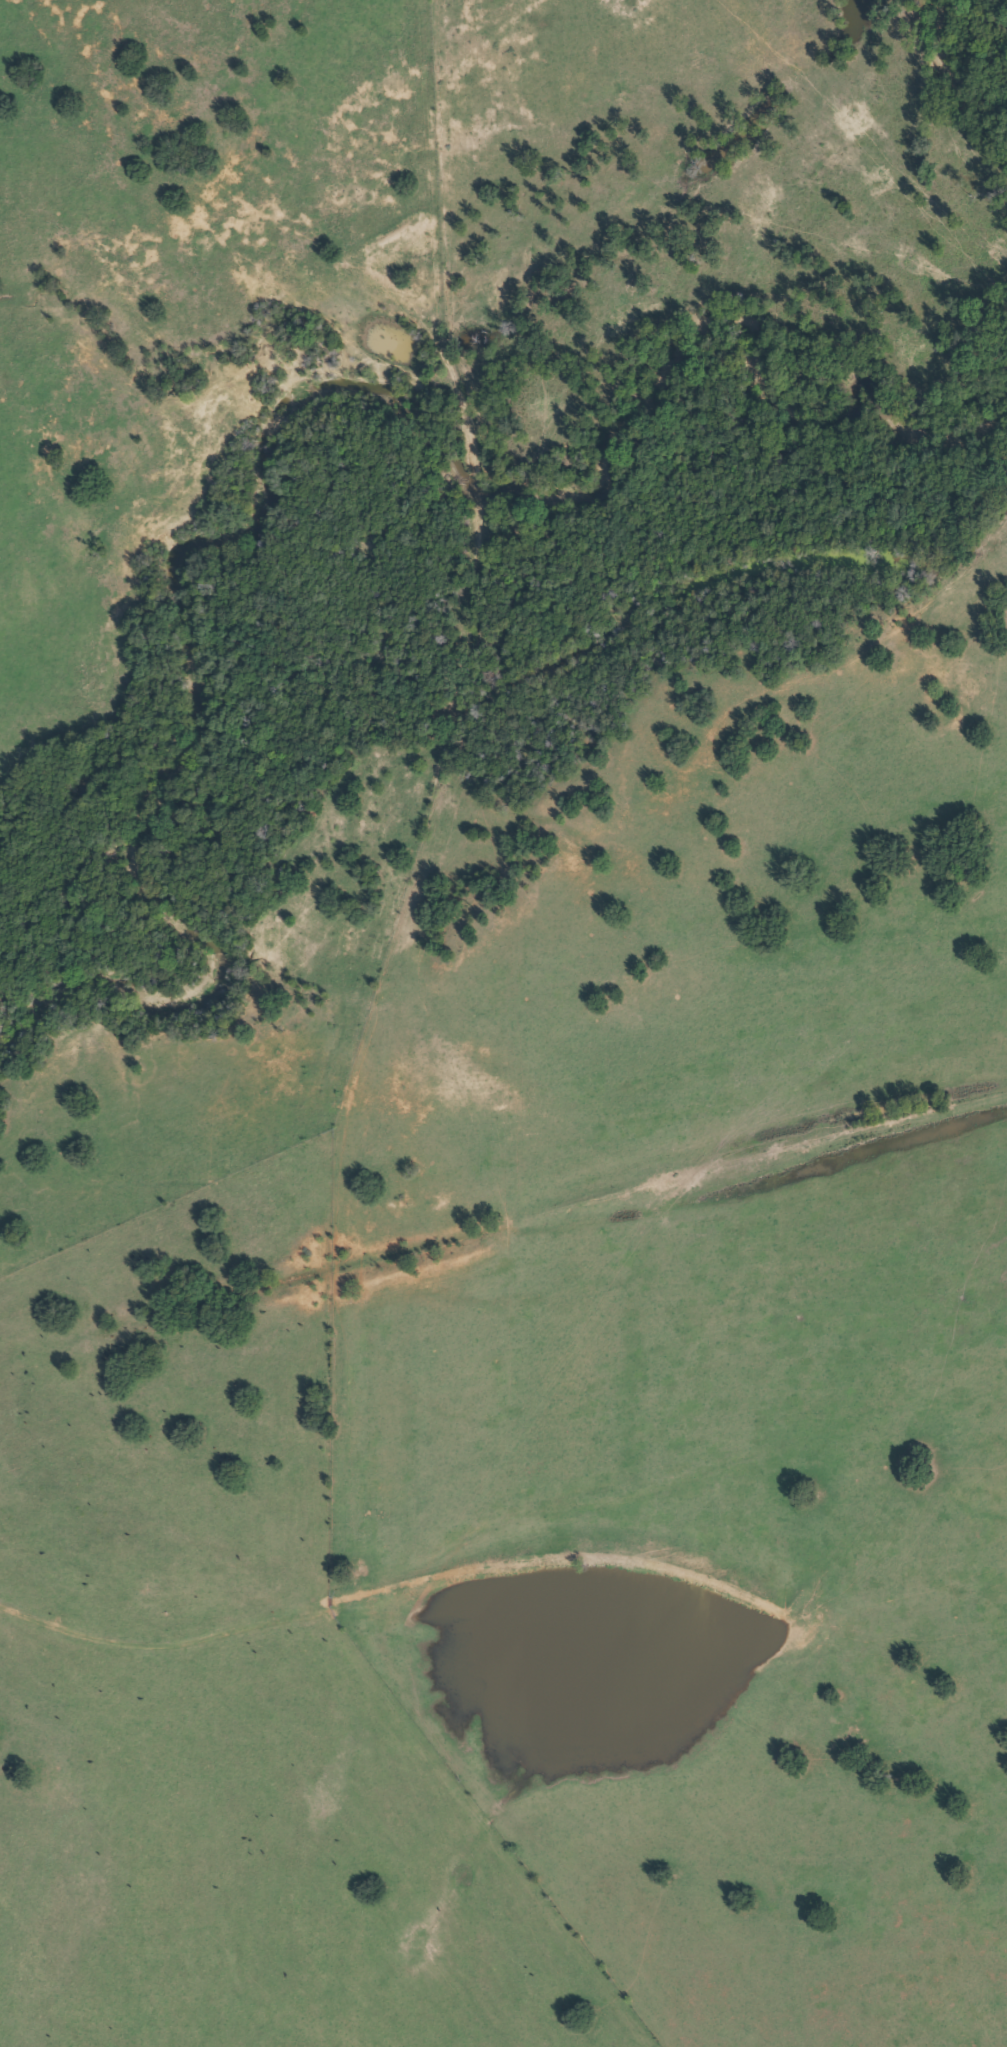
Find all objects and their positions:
road: (495, 1523)

